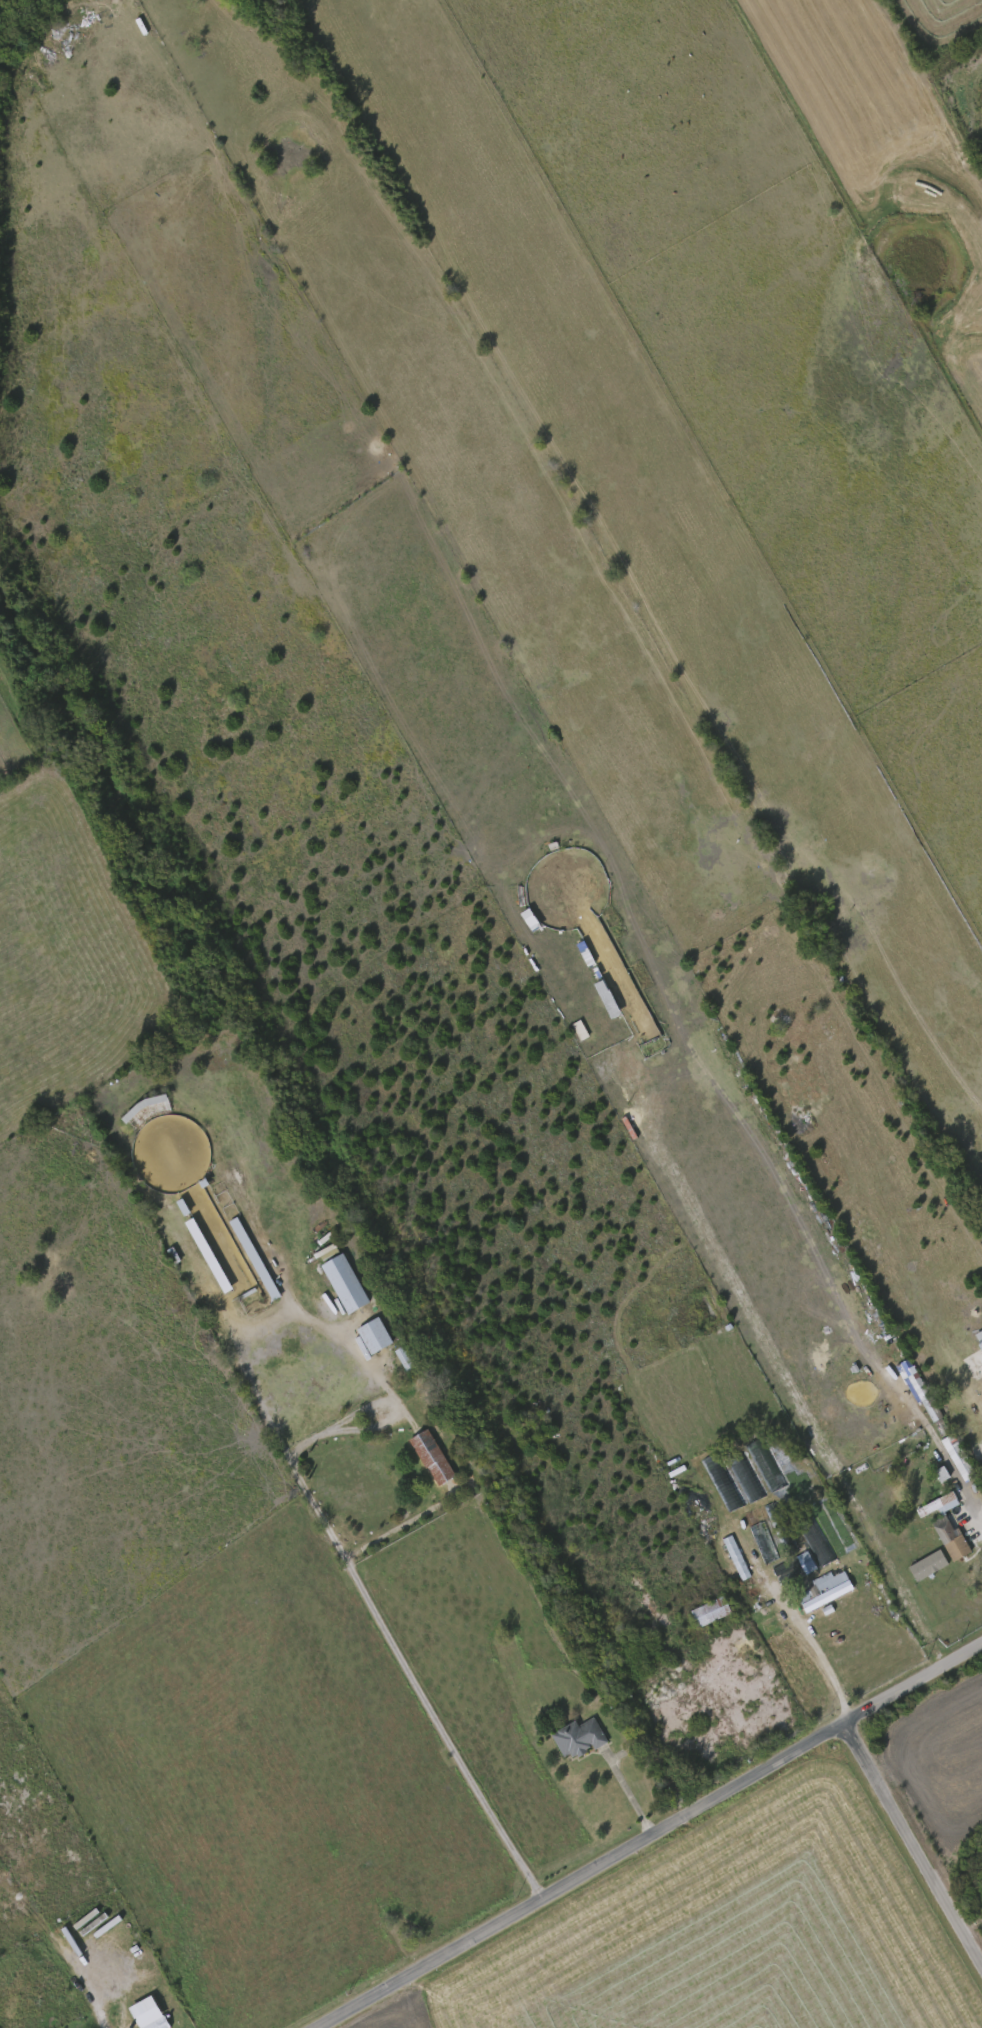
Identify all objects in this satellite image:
building: (580, 1031)
building: (144, 1109)
building: (208, 1256)
building: (256, 1261)
building: (343, 1281)
building: (373, 1334)
building: (979, 1335)
building: (406, 1356)
building: (915, 1386)
building: (430, 1454)
building: (960, 1459)
road: (968, 1496)
building: (938, 1503)
road: (409, 1524)
building: (759, 1535)
building: (814, 1535)
building: (949, 1536)
building: (736, 1558)
building: (928, 1566)
building: (792, 1568)
building: (824, 1587)
building: (709, 1610)
road: (813, 1642)
road: (414, 1685)
building: (578, 1736)
road: (629, 1793)
road: (652, 1839)
road: (913, 1845)
building: (146, 2013)

